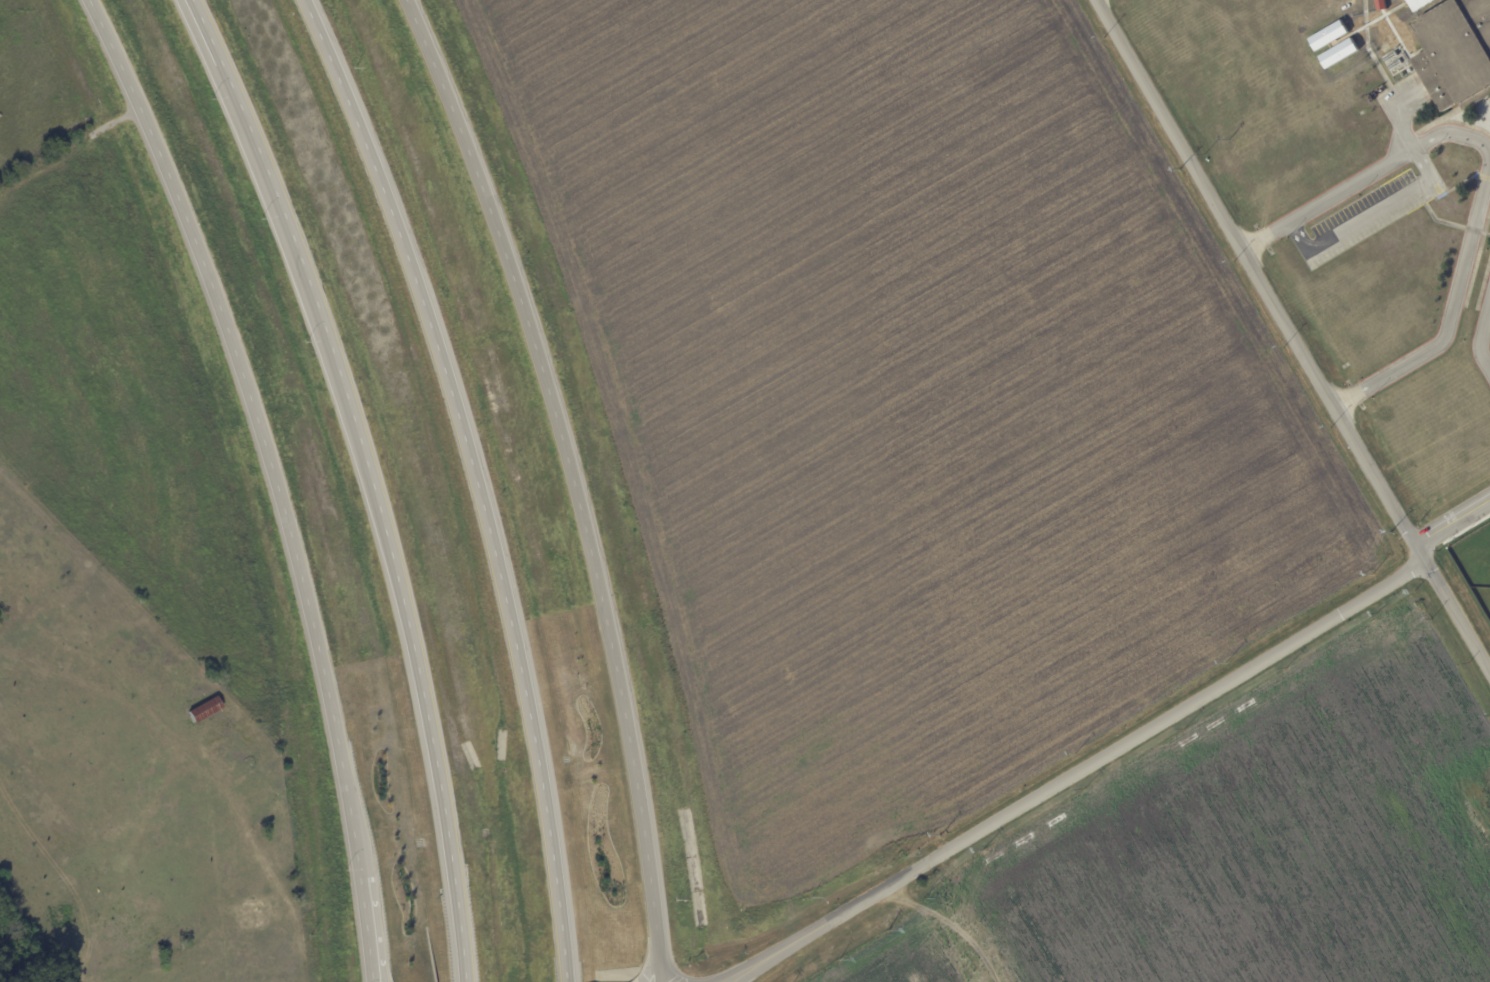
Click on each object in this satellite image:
building: (1406, 33)
building: (1457, 52)
parking lot: (1408, 89)
road: (1404, 111)
road: (1488, 169)
parking lot: (1370, 214)
road: (1371, 214)
road: (1292, 336)
road: (1481, 337)
road: (366, 477)
road: (268, 479)
road: (471, 481)
road: (569, 481)
road: (1453, 522)
building: (205, 708)
road: (1077, 772)
road: (647, 970)
road: (373, 972)

